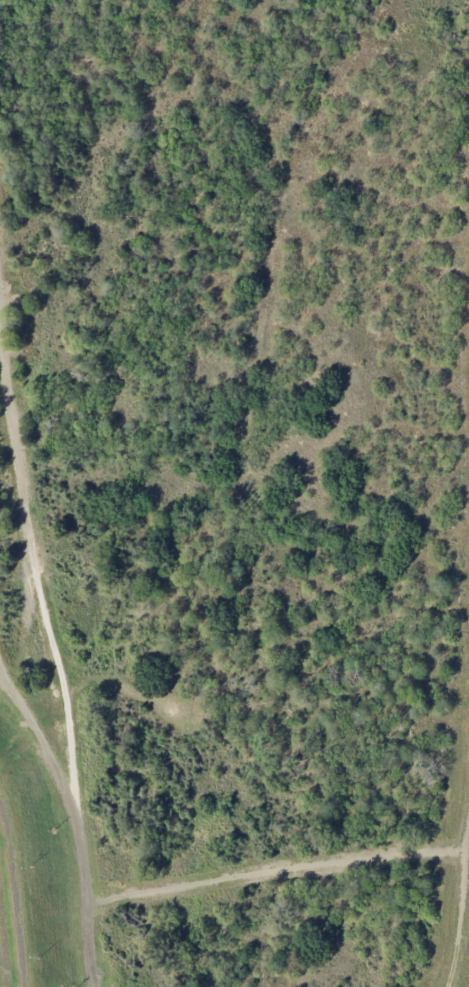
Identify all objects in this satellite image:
road: (72, 818)

